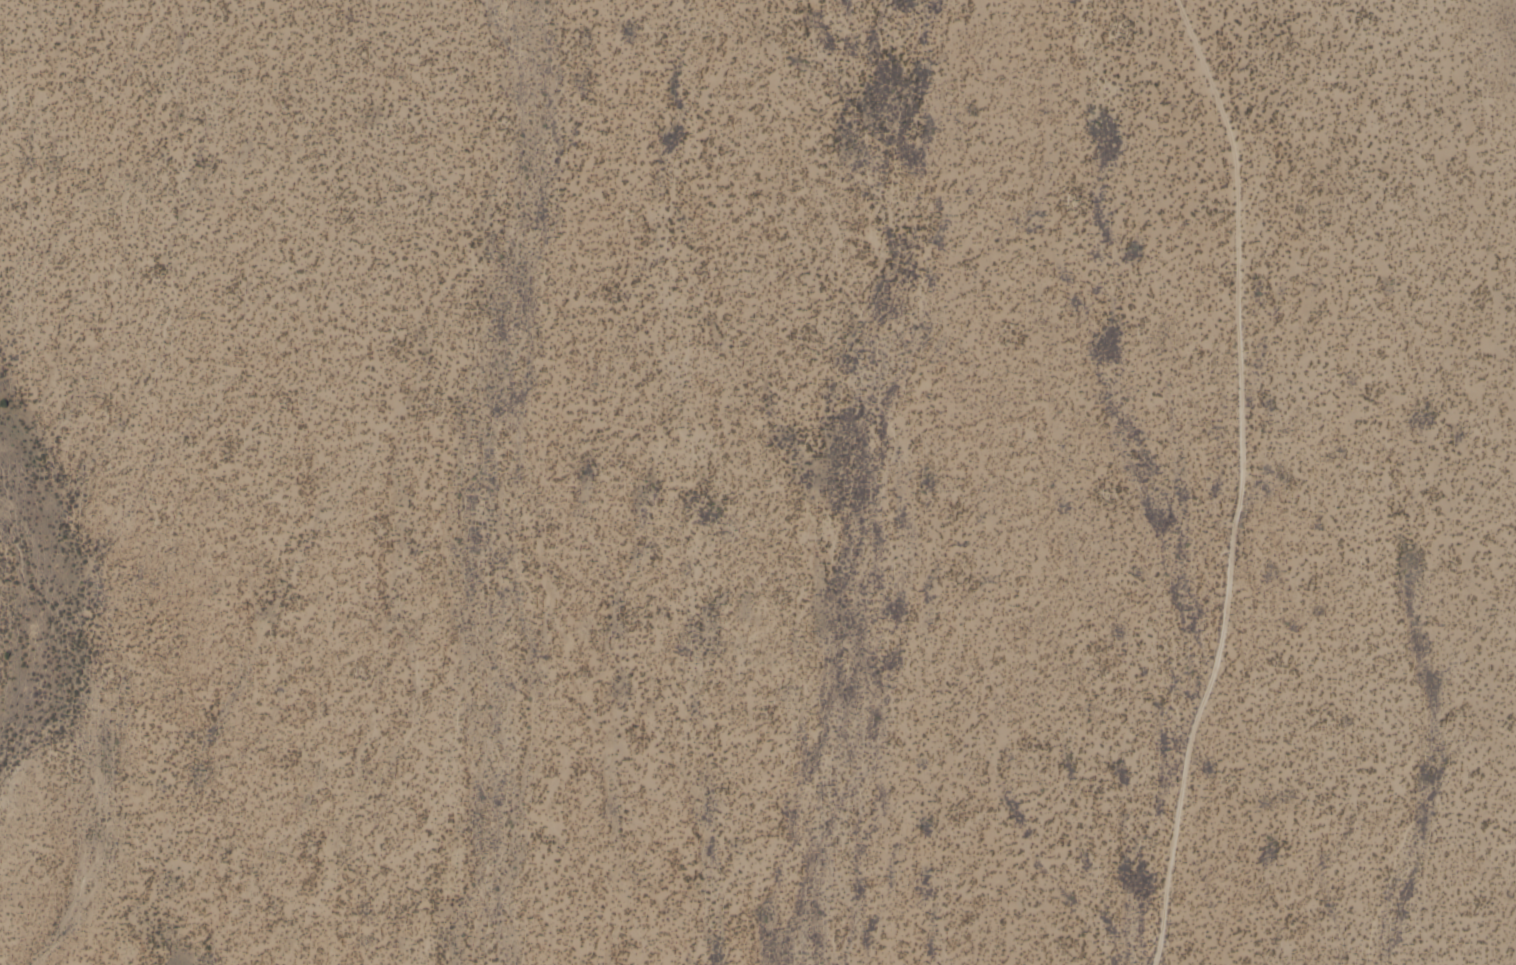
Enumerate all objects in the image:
road: (1230, 480)

